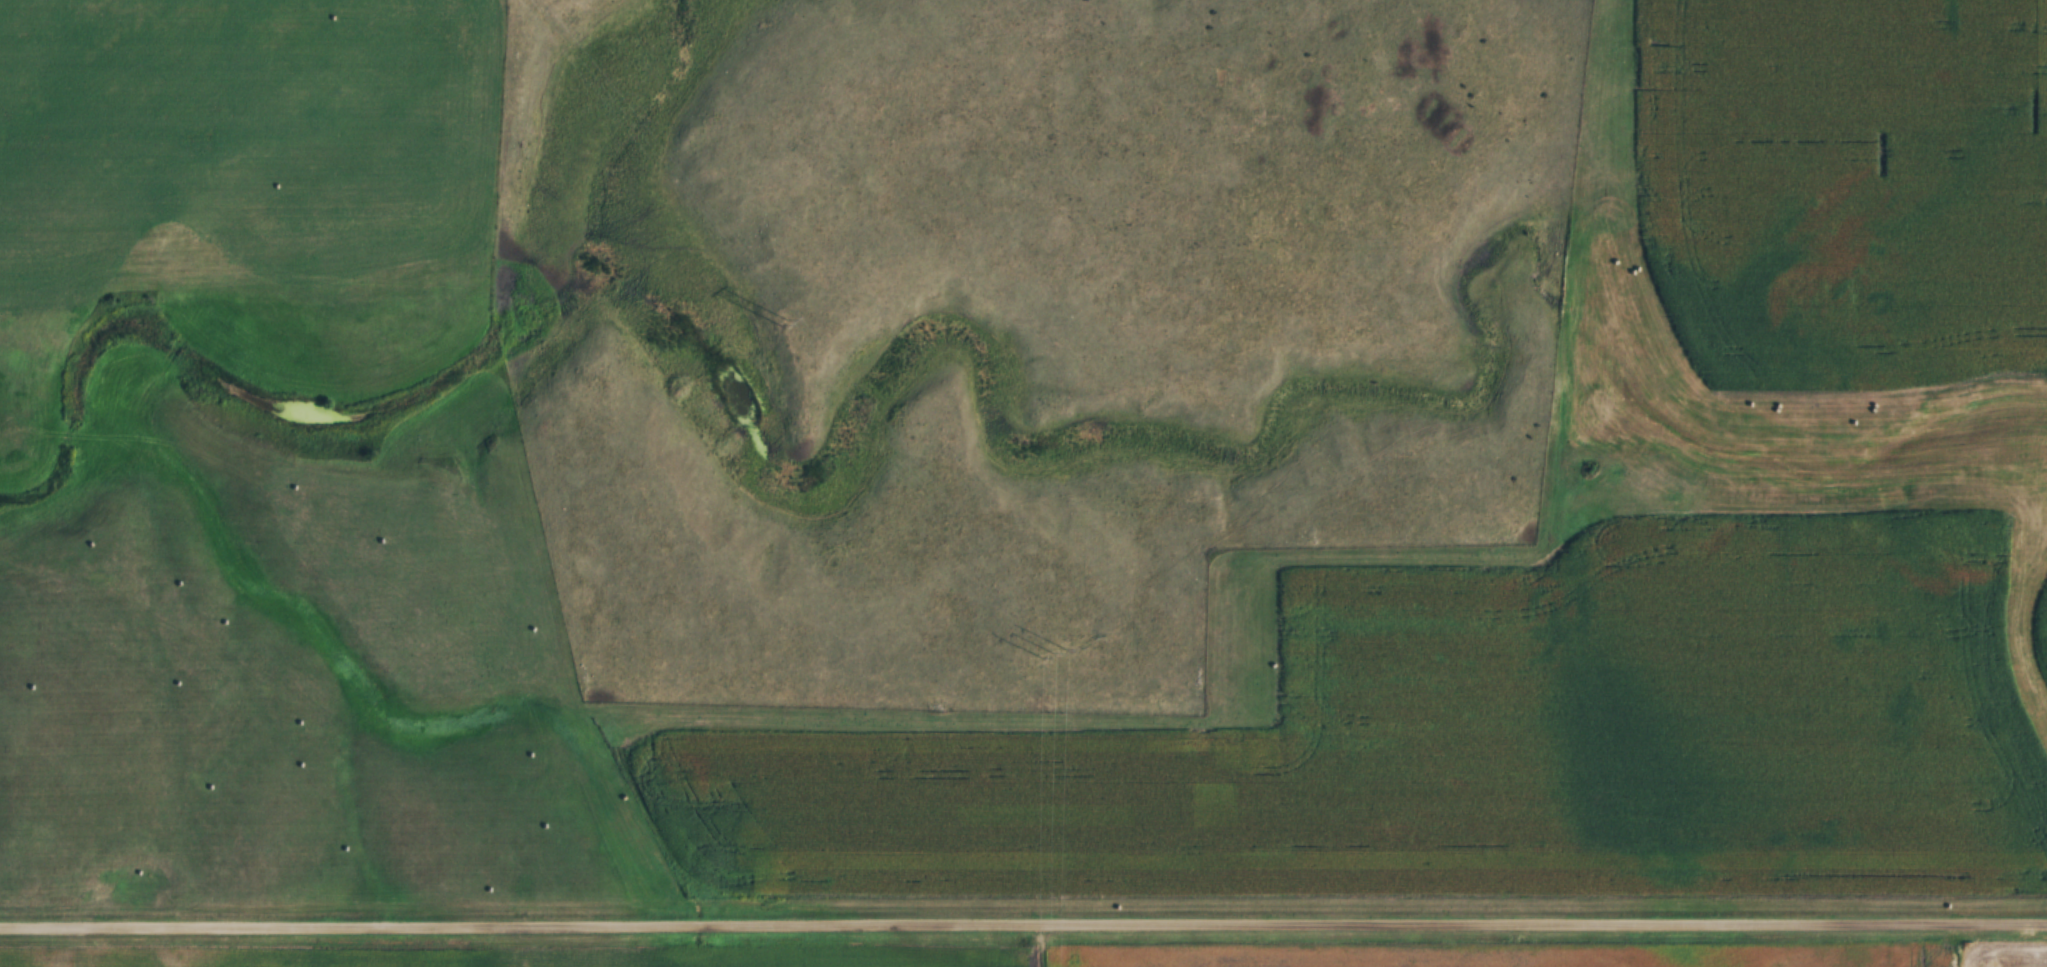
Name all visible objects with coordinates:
power tower: (781, 326)
power tower: (1051, 655)
road: (1023, 910)

